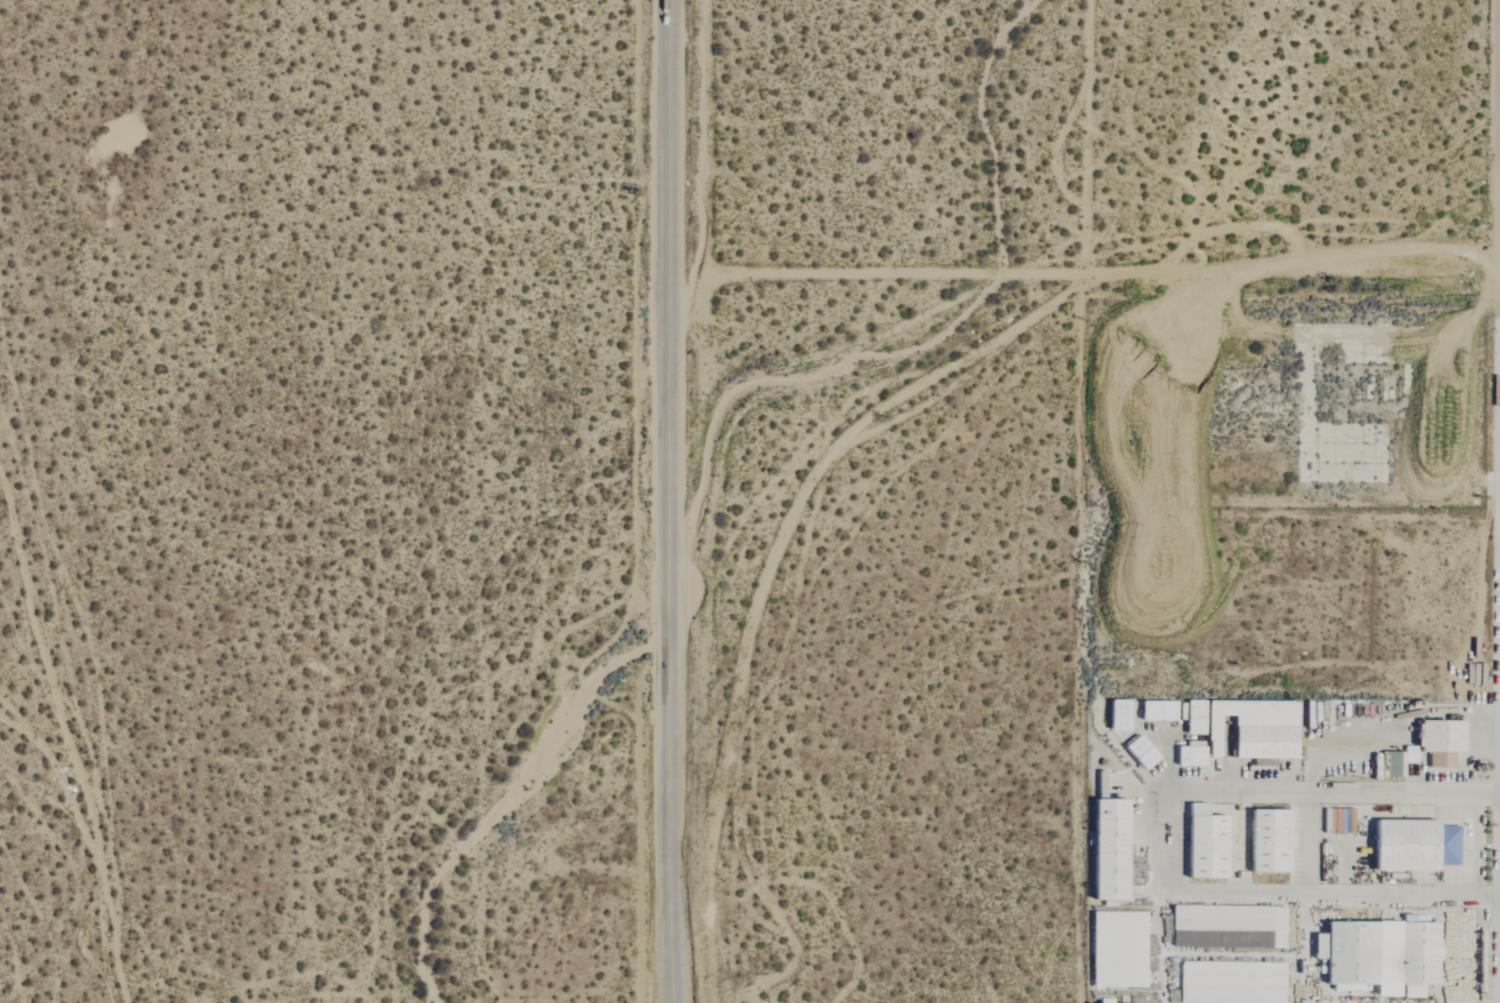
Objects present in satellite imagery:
road: (1090, 137)
road: (1089, 275)
road: (672, 501)
building: (1155, 710)
building: (1116, 715)
building: (1191, 718)
building: (1252, 728)
building: (1438, 741)
building: (1138, 752)
building: (1408, 754)
building: (1187, 756)
building: (1389, 764)
building: (1331, 820)
building: (1266, 841)
road: (1161, 843)
building: (1202, 843)
building: (1412, 845)
building: (1105, 849)
building: (1225, 927)
building: (1116, 949)
building: (1375, 954)
building: (1228, 982)
building: (1101, 1001)

